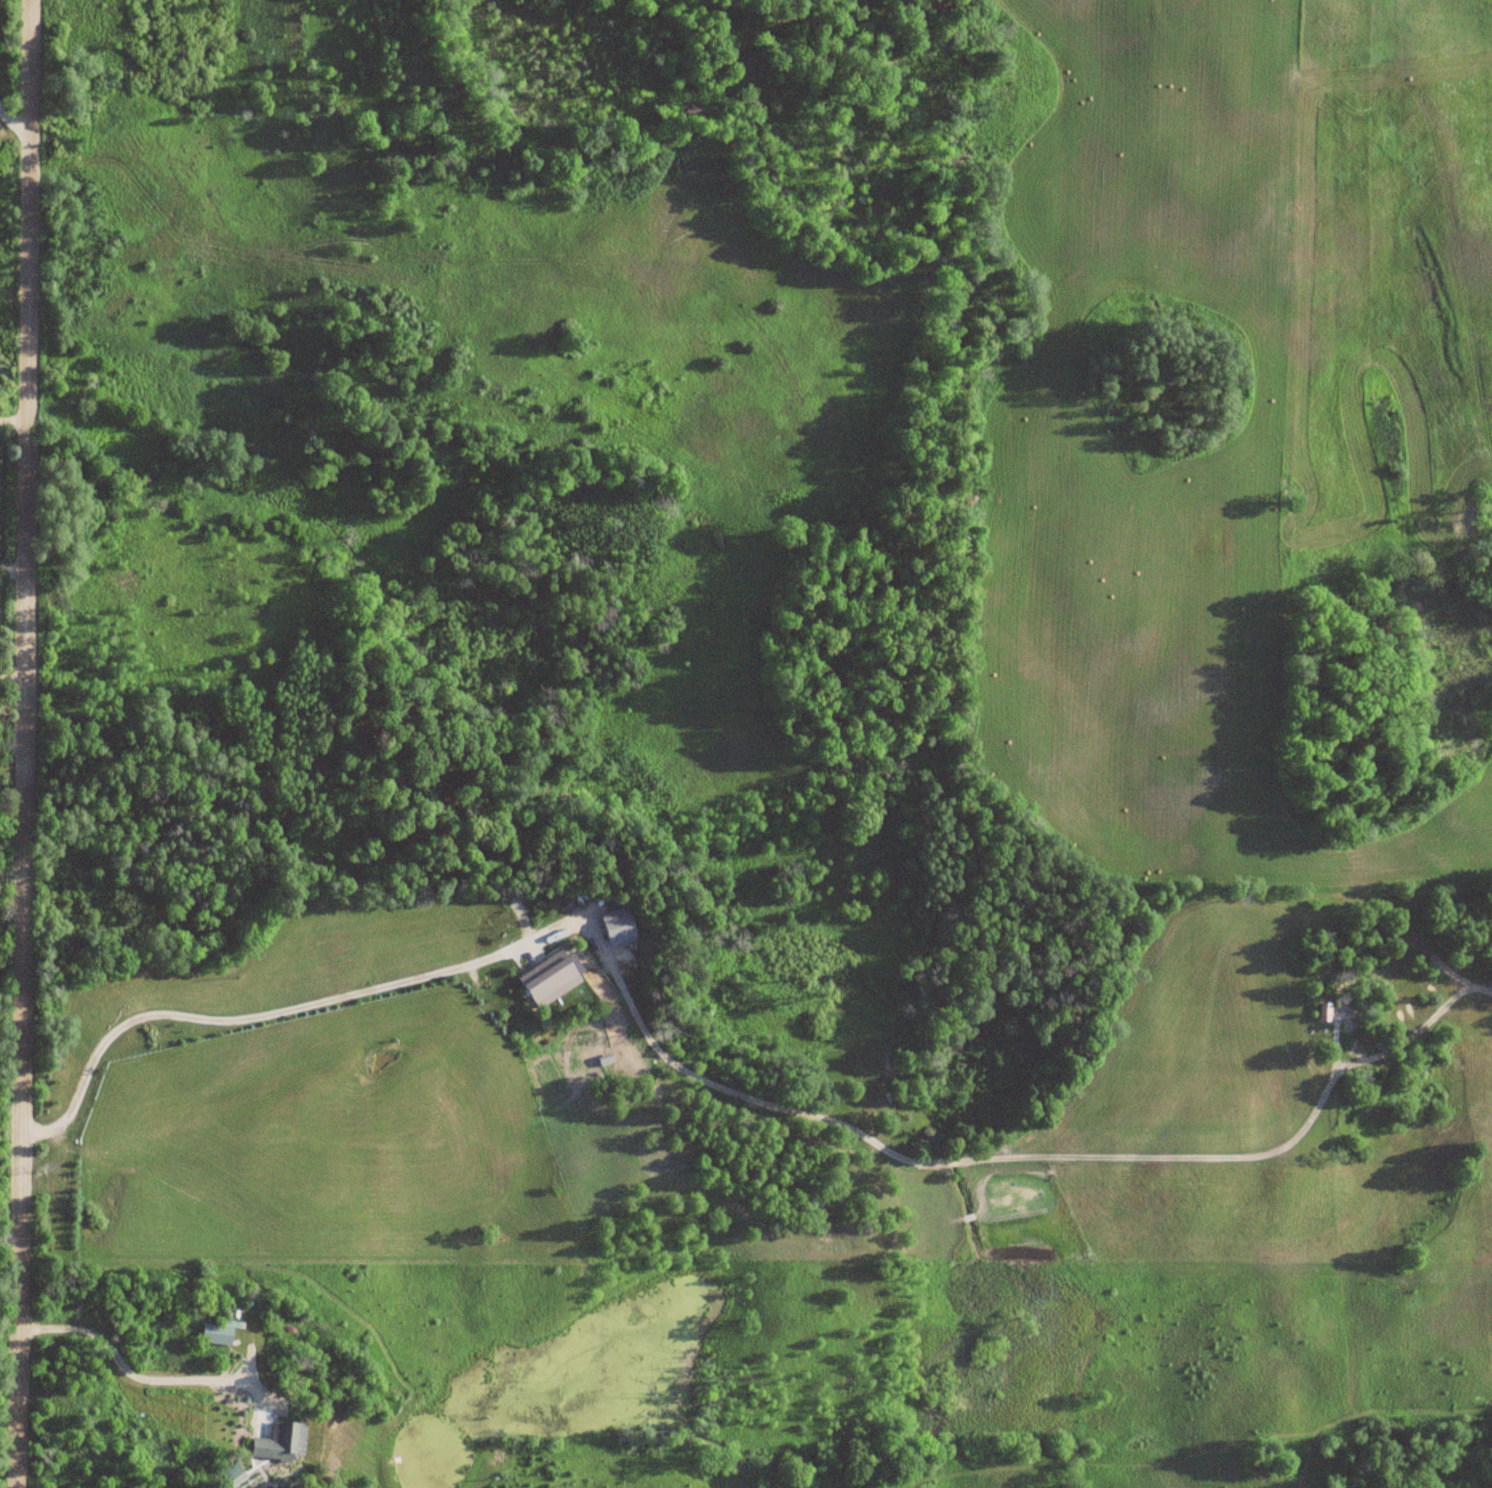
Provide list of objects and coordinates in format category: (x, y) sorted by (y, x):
road: (20, 744)
building: (546, 976)
building: (814, 1207)
building: (220, 1333)
building: (280, 1443)
building: (232, 1475)

